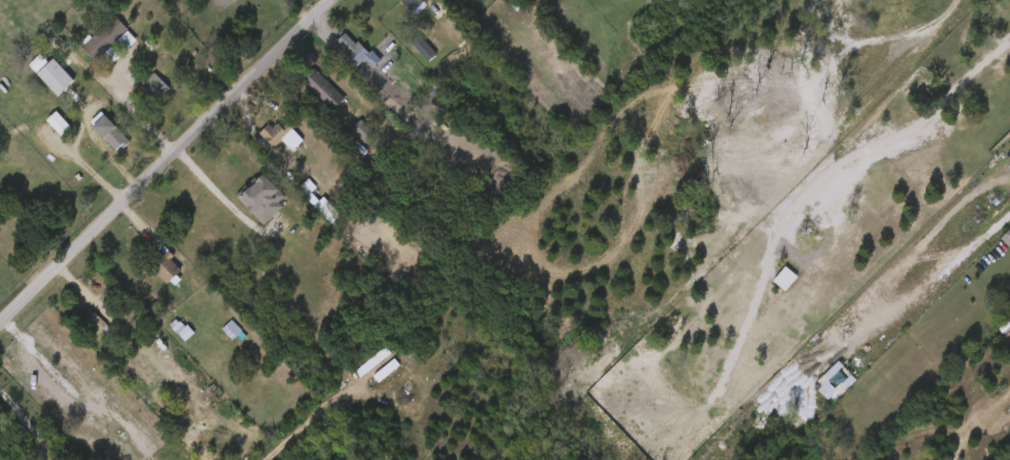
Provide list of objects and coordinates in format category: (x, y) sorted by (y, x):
building: (220, 1)
building: (228, 2)
building: (410, 4)
building: (105, 37)
building: (87, 45)
building: (426, 46)
building: (356, 50)
building: (59, 77)
building: (36, 85)
building: (153, 90)
building: (325, 90)
road: (391, 103)
road: (140, 116)
building: (62, 125)
building: (40, 132)
building: (111, 133)
building: (282, 135)
building: (92, 141)
road: (874, 147)
road: (164, 161)
building: (229, 181)
road: (221, 194)
building: (261, 199)
building: (167, 266)
building: (95, 325)
road: (25, 426)

